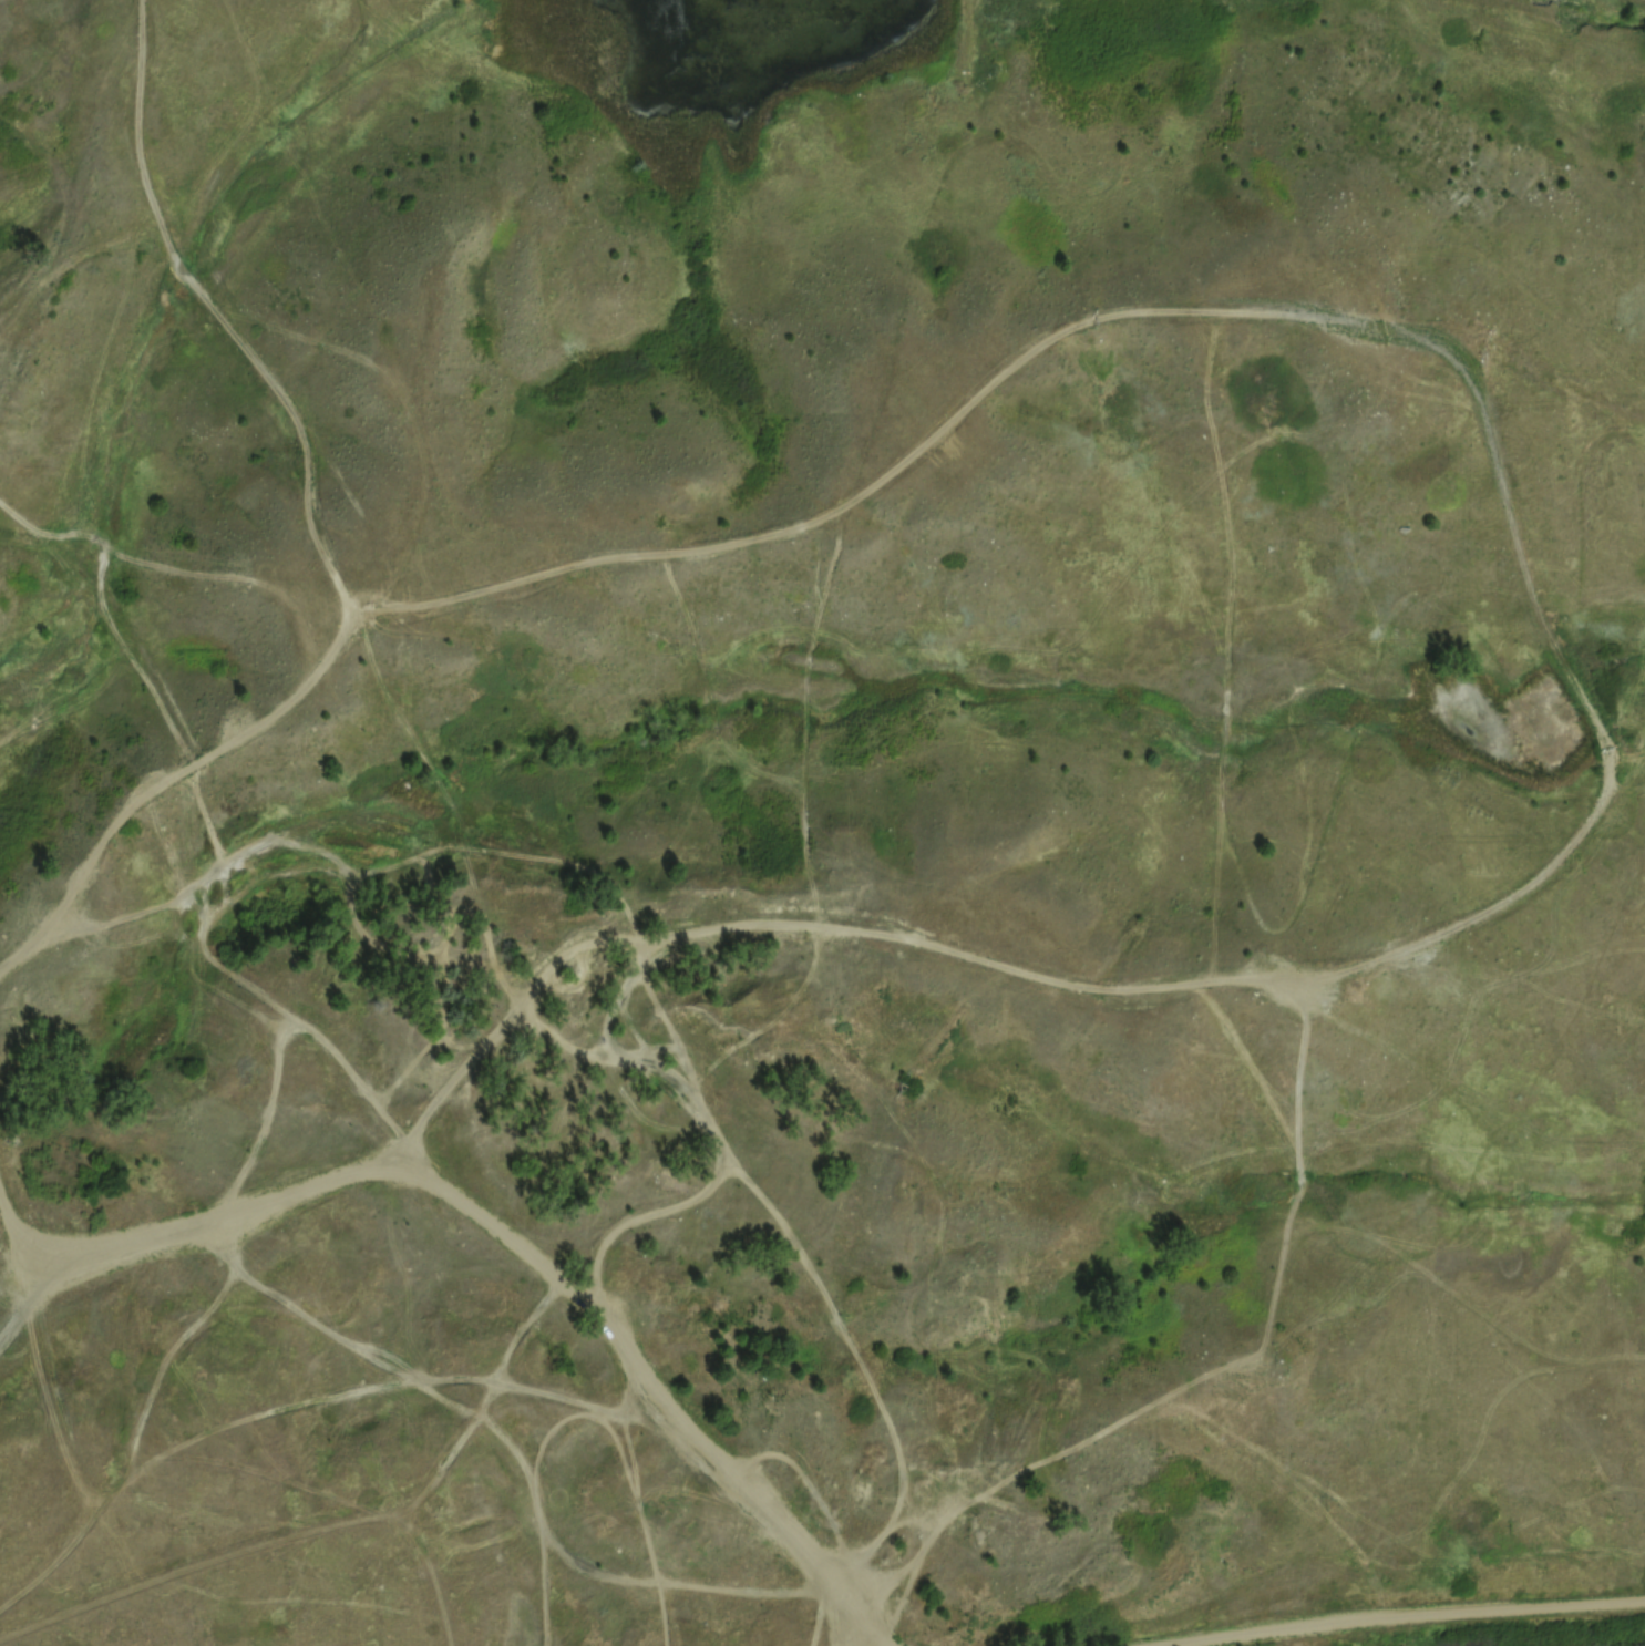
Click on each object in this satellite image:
road: (1412, 1613)

